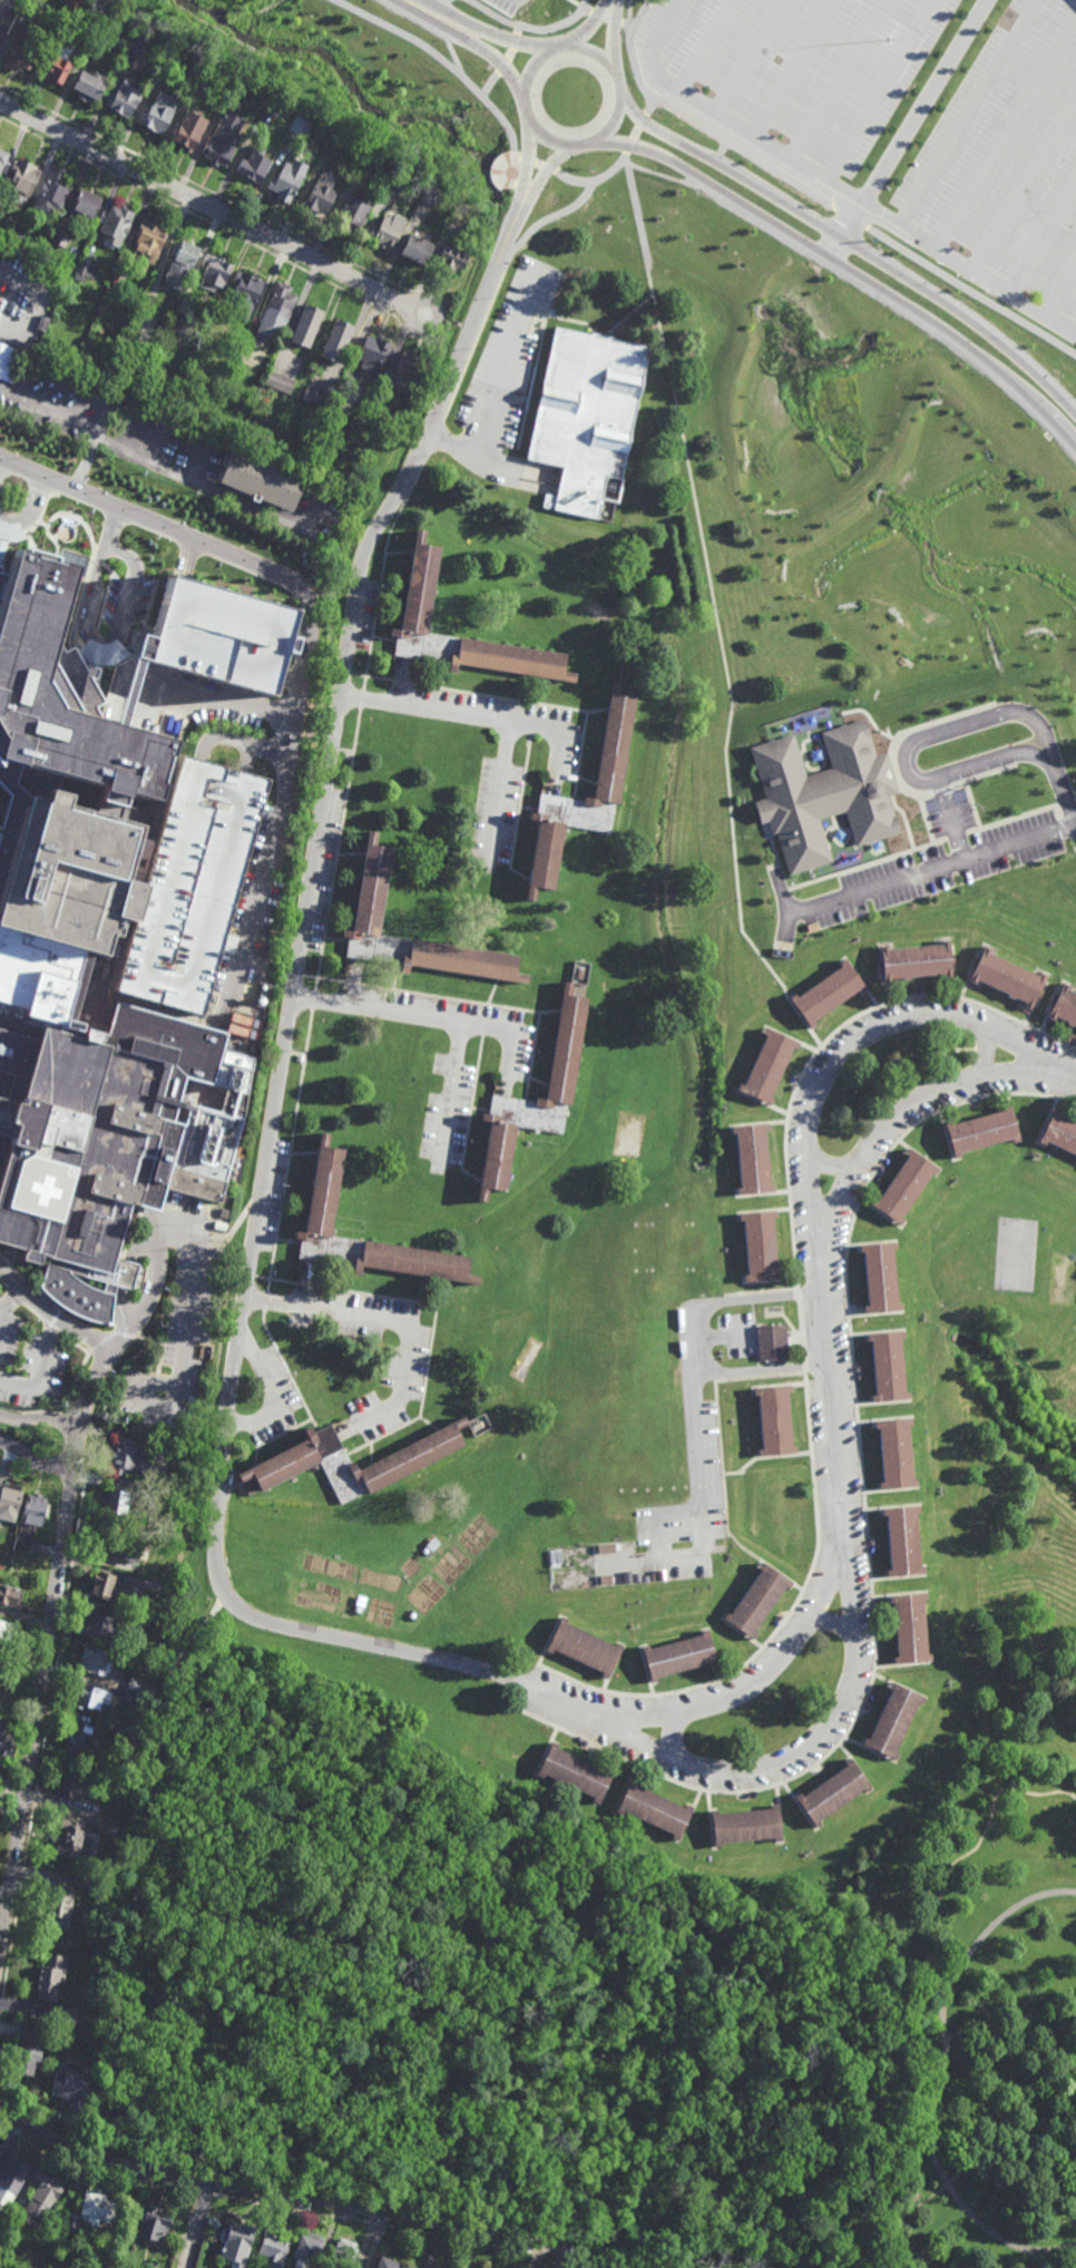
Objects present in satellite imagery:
road: (429, 1)
road: (438, 1)
road: (415, 10)
building: (66, 11)
road: (630, 11)
road: (497, 13)
road: (526, 13)
road: (557, 23)
road: (590, 27)
building: (100, 29)
road: (492, 31)
road: (659, 37)
road: (614, 39)
building: (135, 45)
road: (512, 46)
road: (705, 46)
road: (451, 47)
building: (22, 49)
road: (488, 52)
road: (598, 55)
road: (749, 57)
building: (165, 59)
building: (58, 63)
road: (792, 68)
road: (492, 79)
road: (837, 80)
building: (89, 85)
road: (879, 90)
building: (261, 94)
road: (524, 97)
building: (124, 99)
building: (271, 104)
building: (158, 113)
road: (970, 115)
building: (299, 125)
road: (612, 126)
parking lot: (908, 126)
road: (910, 128)
building: (189, 129)
road: (508, 129)
road: (665, 133)
road: (1005, 137)
building: (224, 139)
building: (330, 144)
road: (723, 149)
road: (651, 150)
building: (3, 158)
road: (527, 160)
building: (366, 164)
building: (255, 165)
road: (544, 174)
road: (664, 176)
building: (22, 178)
building: (398, 178)
building: (288, 179)
road: (810, 189)
road: (1024, 189)
building: (51, 190)
building: (322, 196)
building: (429, 196)
road: (858, 203)
building: (85, 204)
building: (462, 205)
road: (212, 207)
building: (354, 212)
building: (117, 224)
building: (389, 231)
building: (59, 237)
building: (22, 241)
road: (1041, 241)
building: (147, 243)
building: (417, 248)
building: (453, 256)
building: (180, 266)
building: (86, 271)
building: (215, 272)
road: (906, 276)
road: (499, 286)
road: (6, 289)
building: (245, 293)
road: (1060, 293)
road: (904, 303)
building: (280, 304)
road: (447, 320)
road: (549, 322)
building: (42, 323)
building: (179, 323)
road: (453, 324)
building: (307, 325)
road: (471, 325)
building: (125, 326)
building: (339, 342)
building: (246, 344)
building: (147, 352)
building: (375, 353)
building: (189, 361)
building: (8, 362)
building: (410, 365)
building: (280, 381)
road: (498, 389)
building: (319, 398)
building: (374, 413)
road: (166, 418)
building: (588, 419)
road: (434, 438)
road: (85, 458)
road: (156, 467)
road: (518, 469)
building: (263, 475)
road: (400, 551)
road: (186, 559)
building: (74, 561)
road: (381, 570)
road: (411, 587)
building: (421, 593)
road: (716, 613)
building: (215, 638)
parking garage: (215, 638)
road: (387, 639)
road: (306, 653)
road: (346, 674)
road: (511, 675)
road: (443, 676)
road: (372, 677)
road: (288, 678)
road: (400, 681)
road: (400, 683)
road: (540, 693)
road: (126, 694)
road: (497, 698)
road: (362, 701)
road: (232, 706)
road: (598, 712)
road: (483, 720)
road: (532, 720)
building: (52, 729)
road: (221, 741)
road: (605, 741)
road: (271, 747)
road: (908, 751)
road: (247, 759)
road: (580, 759)
road: (1060, 779)
road: (588, 782)
building: (612, 793)
road: (322, 795)
road: (498, 798)
building: (823, 798)
road: (520, 803)
road: (585, 804)
road: (530, 809)
road: (950, 818)
road: (338, 850)
road: (352, 856)
road: (532, 856)
road: (936, 869)
road: (519, 877)
building: (66, 880)
building: (188, 883)
parking garage: (188, 883)
road: (361, 886)
building: (374, 891)
road: (336, 940)
building: (917, 961)
building: (8, 962)
road: (462, 975)
road: (323, 977)
road: (397, 977)
building: (1008, 978)
road: (101, 979)
road: (352, 981)
storage tank: (267, 983)
road: (353, 984)
road: (493, 993)
building: (826, 993)
road: (76, 994)
road: (947, 997)
storage tank: (265, 998)
road: (451, 998)
road: (314, 999)
road: (153, 1003)
building: (1065, 1004)
road: (150, 1007)
road: (551, 1011)
road: (431, 1019)
road: (486, 1020)
road: (558, 1035)
road: (844, 1052)
road: (985, 1055)
road: (532, 1056)
building: (767, 1066)
road: (1062, 1069)
road: (539, 1084)
building: (561, 1091)
road: (449, 1097)
road: (541, 1099)
road: (472, 1103)
road: (482, 1108)
road: (168, 1115)
road: (892, 1118)
building: (107, 1130)
building: (984, 1132)
building: (1060, 1133)
road: (290, 1151)
road: (304, 1154)
road: (488, 1156)
building: (752, 1159)
road: (785, 1162)
road: (829, 1165)
road: (473, 1176)
helipad: (46, 1187)
building: (904, 1187)
building: (326, 1191)
road: (270, 1196)
road: (311, 1203)
road: (156, 1226)
road: (234, 1226)
road: (150, 1235)
road: (128, 1242)
building: (761, 1249)
road: (18, 1272)
road: (251, 1275)
road: (415, 1275)
building: (881, 1278)
road: (276, 1279)
road: (349, 1279)
road: (305, 1284)
road: (306, 1284)
road: (798, 1294)
road: (88, 1296)
road: (376, 1296)
road: (48, 1298)
road: (265, 1301)
road: (8, 1308)
road: (117, 1309)
road: (2, 1311)
road: (52, 1314)
road: (137, 1319)
road: (50, 1320)
road: (81, 1322)
road: (189, 1322)
road: (397, 1326)
road: (800, 1331)
road: (124, 1333)
road: (718, 1335)
road: (99, 1340)
road: (691, 1340)
road: (75, 1343)
building: (770, 1343)
road: (175, 1345)
road: (164, 1346)
road: (51, 1347)
road: (803, 1367)
building: (889, 1368)
road: (39, 1369)
road: (288, 1372)
road: (74, 1381)
road: (271, 1390)
road: (669, 1394)
road: (644, 1400)
road: (421, 1402)
road: (31, 1412)
road: (829, 1415)
road: (62, 1418)
road: (39, 1420)
building: (775, 1423)
road: (429, 1424)
road: (276, 1438)
road: (76, 1447)
road: (401, 1448)
parking lot: (664, 1449)
road: (372, 1453)
road: (280, 1455)
building: (897, 1455)
building: (129, 1456)
road: (764, 1456)
building: (310, 1458)
road: (721, 1459)
road: (33, 1462)
road: (78, 1484)
building: (10, 1499)
building: (116, 1500)
road: (215, 1509)
road: (677, 1513)
road: (865, 1518)
building: (30, 1521)
road: (703, 1541)
building: (904, 1542)
building: (123, 1547)
building: (102, 1585)
building: (9, 1595)
building: (134, 1599)
building: (760, 1602)
road: (832, 1623)
building: (141, 1624)
building: (99, 1627)
building: (911, 1629)
building: (6, 1630)
road: (779, 1630)
road: (363, 1644)
building: (587, 1648)
building: (681, 1658)
road: (775, 1659)
building: (94, 1660)
building: (137, 1685)
road: (530, 1688)
building: (134, 1697)
road: (555, 1697)
building: (90, 1698)
road: (38, 1709)
building: (897, 1722)
road: (671, 1734)
building: (138, 1739)
building: (80, 1742)
building: (8, 1746)
road: (43, 1754)
road: (761, 1767)
building: (576, 1772)
building: (81, 1783)
building: (835, 1793)
road: (11, 1806)
building: (655, 1809)
building: (107, 1822)
building: (746, 1826)
building: (74, 1836)
road: (950, 1868)
building: (97, 1881)
building: (62, 1903)
road: (135, 1925)
park: (634, 1949)
road: (173, 1976)
building: (51, 1978)
road: (1017, 2015)
building: (69, 2020)
building: (98, 2039)
road: (529, 2039)
building: (30, 2050)
road: (939, 2079)
building: (71, 2084)
road: (215, 2139)
building: (0, 2144)
road: (99, 2162)
road: (1016, 2164)
road: (90, 2174)
building: (13, 2178)
road: (765, 2178)
road: (204, 2192)
building: (43, 2196)
building: (97, 2206)
road: (400, 2211)
building: (71, 2221)
building: (155, 2223)
road: (197, 2225)
building: (238, 2245)
building: (70, 2248)
building: (273, 2248)
building: (307, 2252)
building: (344, 2255)
building: (387, 2264)

